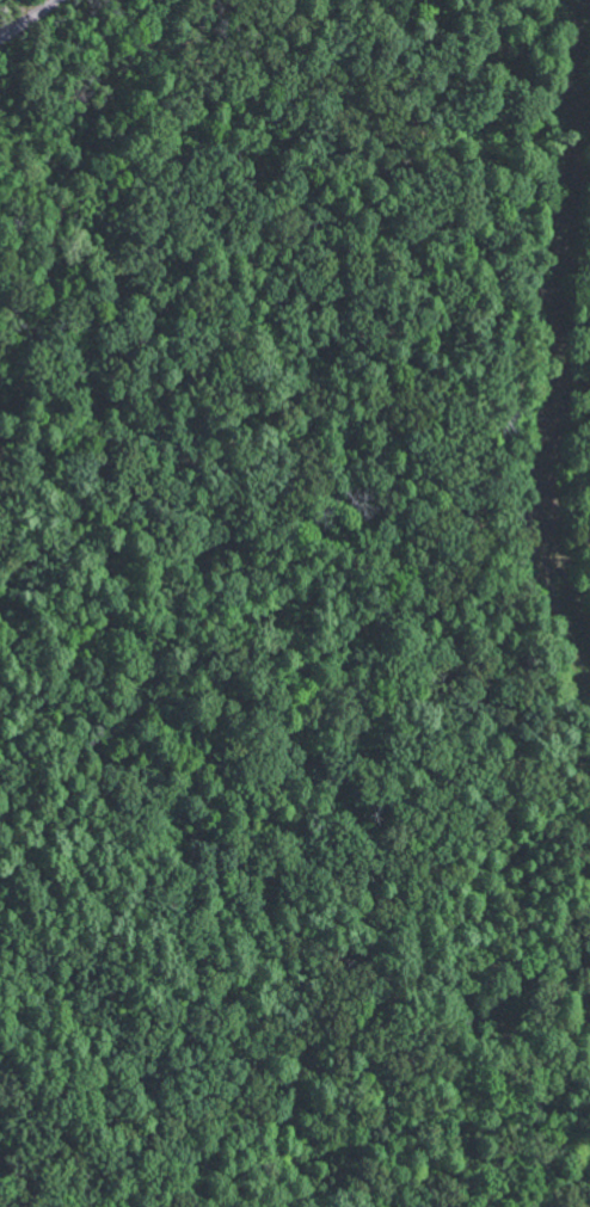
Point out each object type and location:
road: (26, 18)

